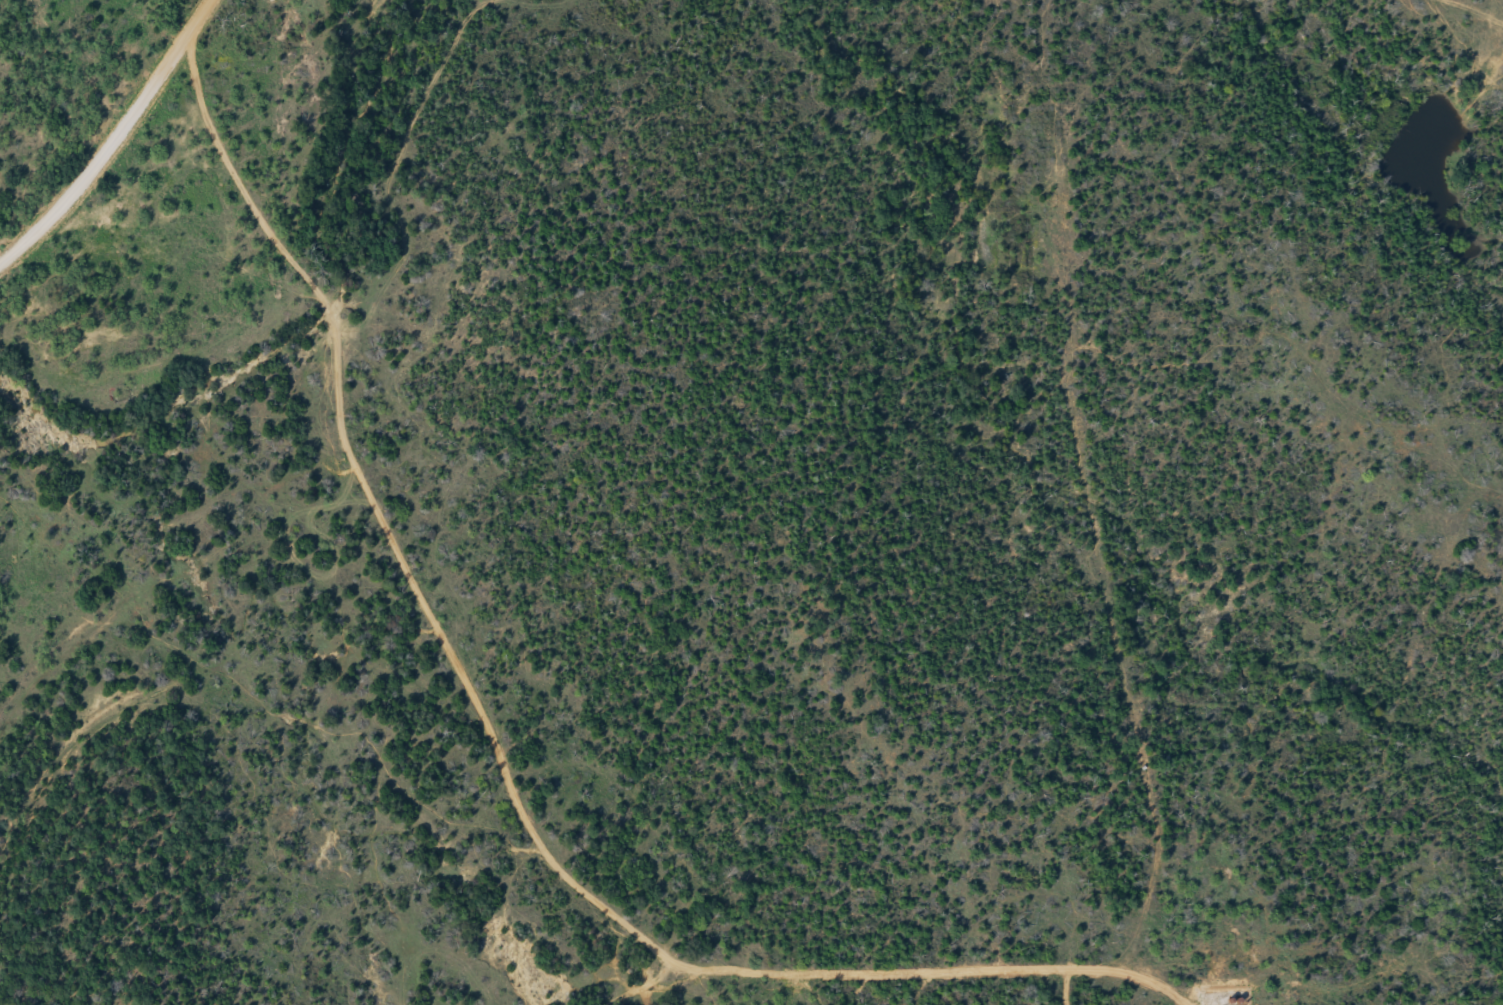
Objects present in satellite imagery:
road: (117, 140)

